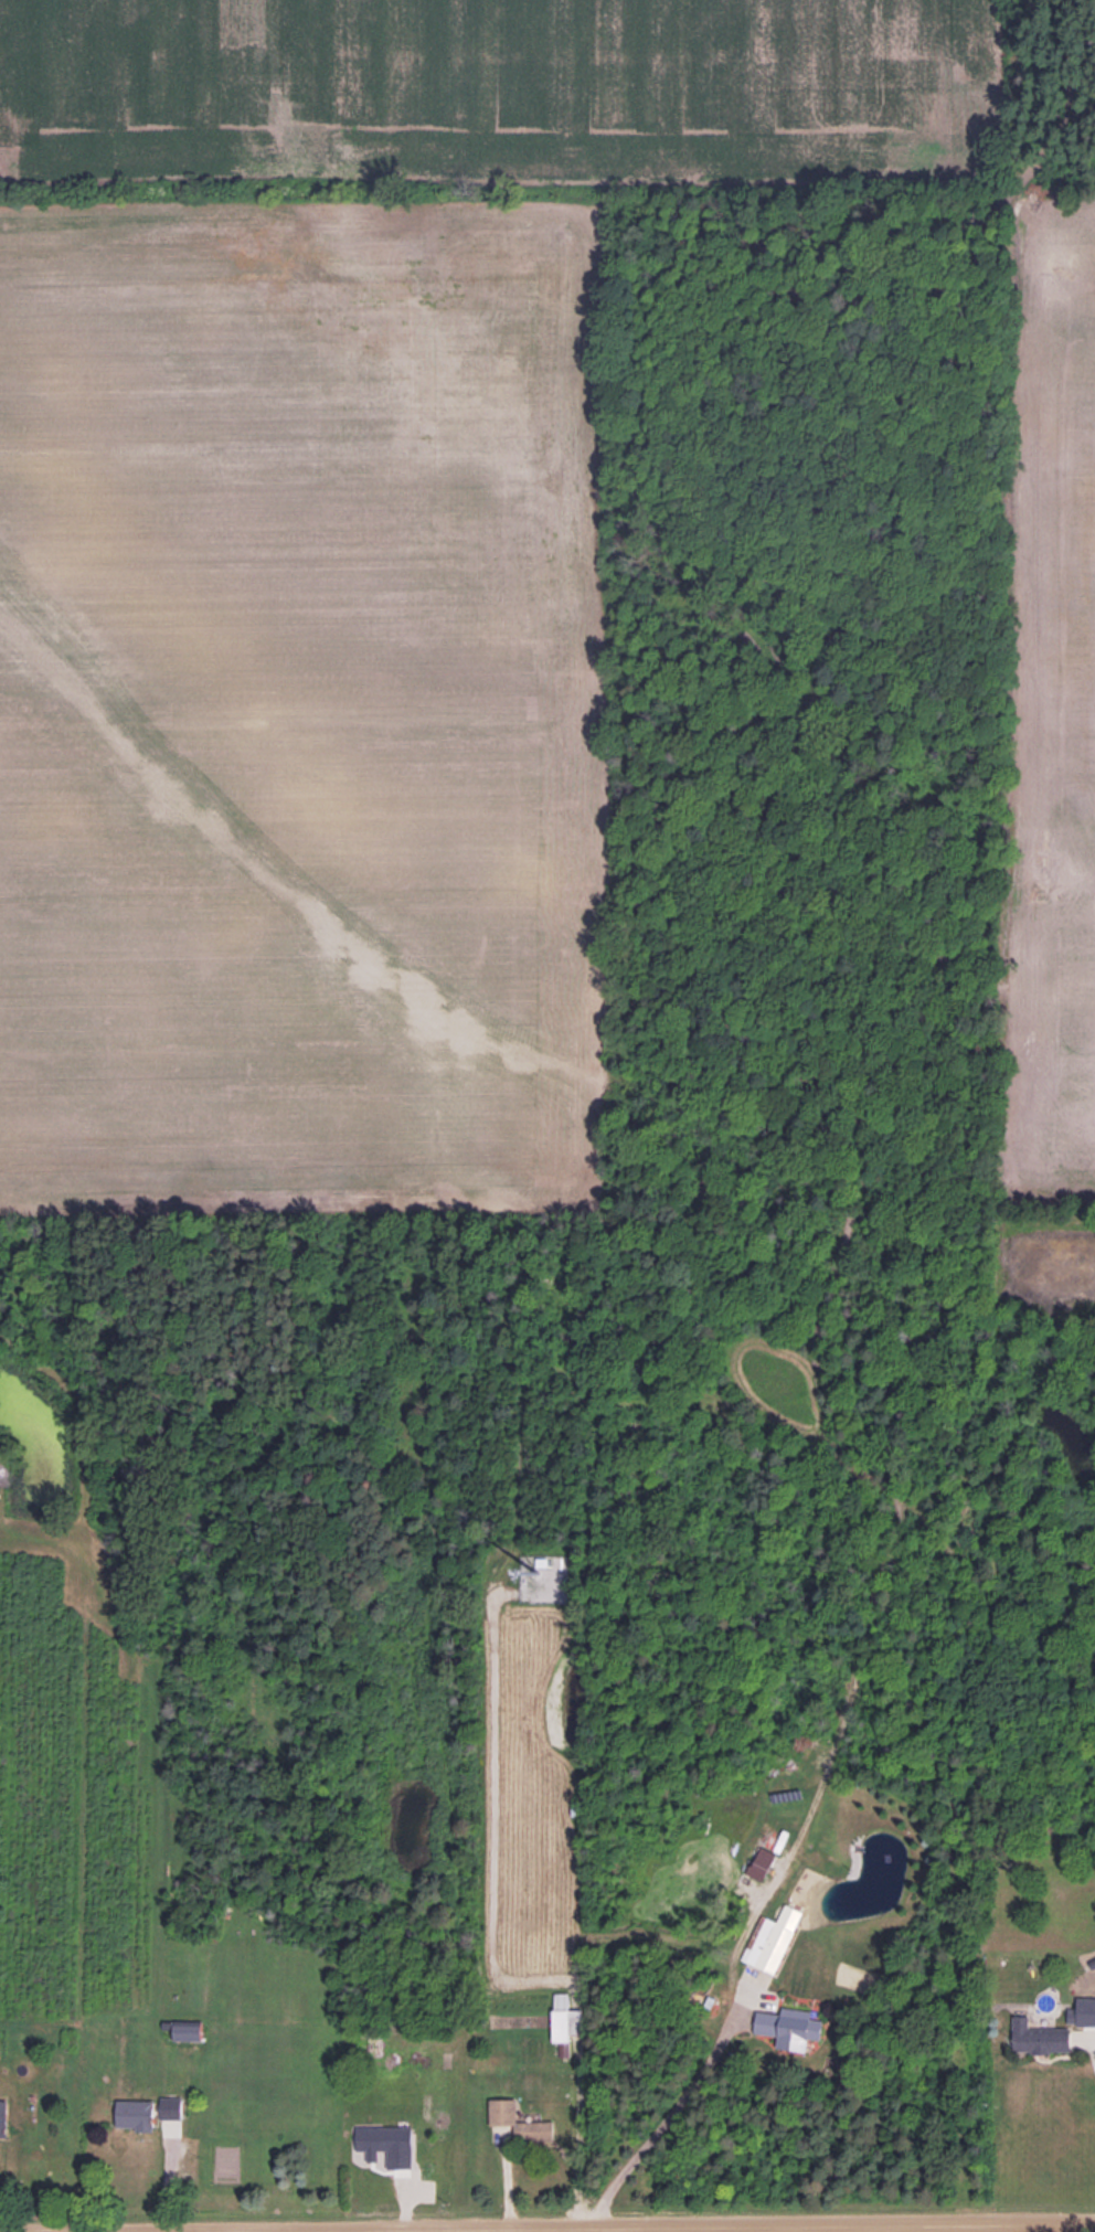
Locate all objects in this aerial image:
building: (759, 1863)
building: (770, 1939)
building: (1082, 2012)
building: (564, 2021)
building: (788, 2027)
building: (187, 2030)
building: (1039, 2037)
road: (1093, 2055)
building: (170, 2107)
building: (135, 2114)
building: (3, 2117)
building: (518, 2122)
building: (386, 2144)
road: (599, 2226)
road: (187, 2231)

